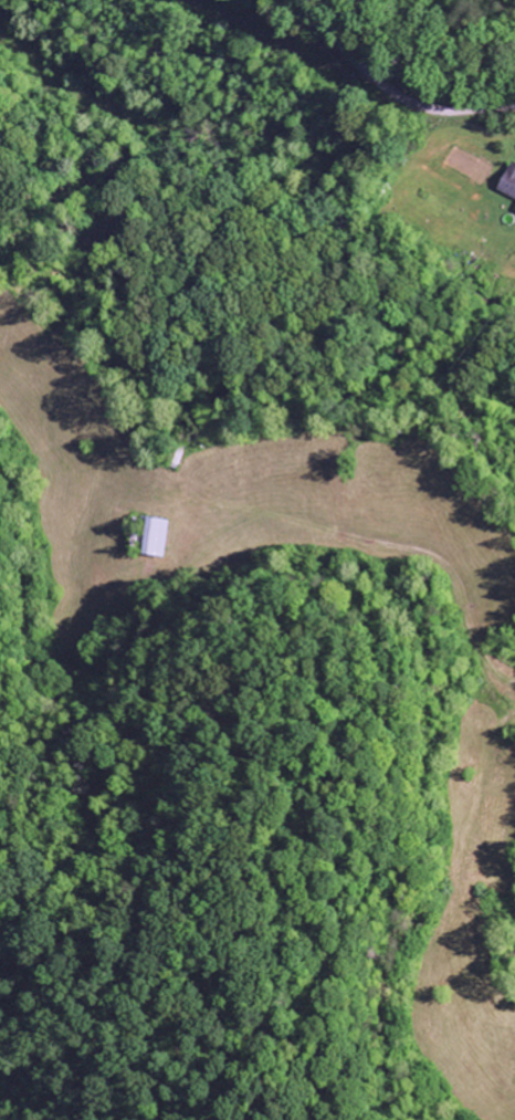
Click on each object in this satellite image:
road: (389, 88)
building: (511, 182)
building: (161, 536)

